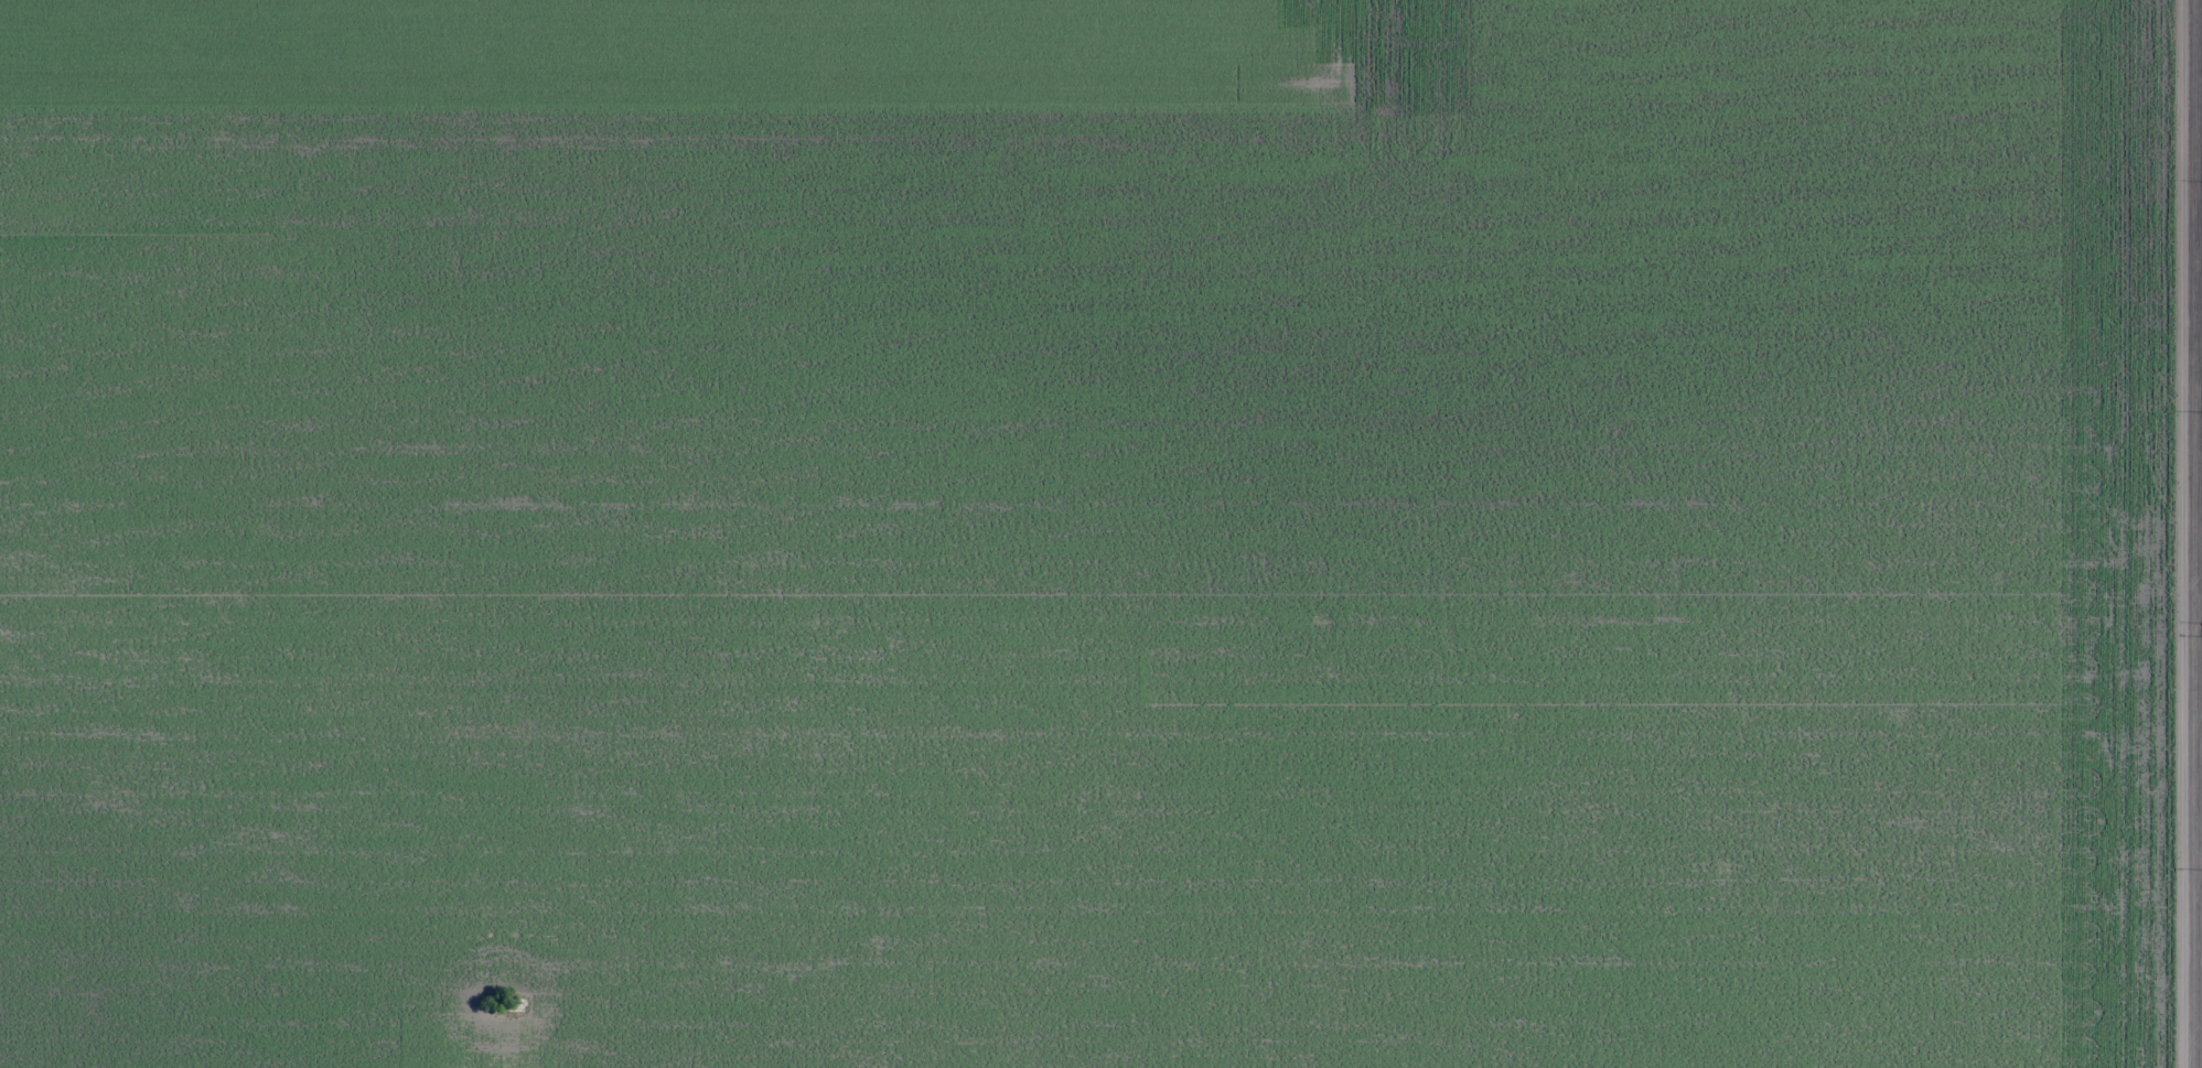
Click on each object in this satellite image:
road: (2184, 533)

